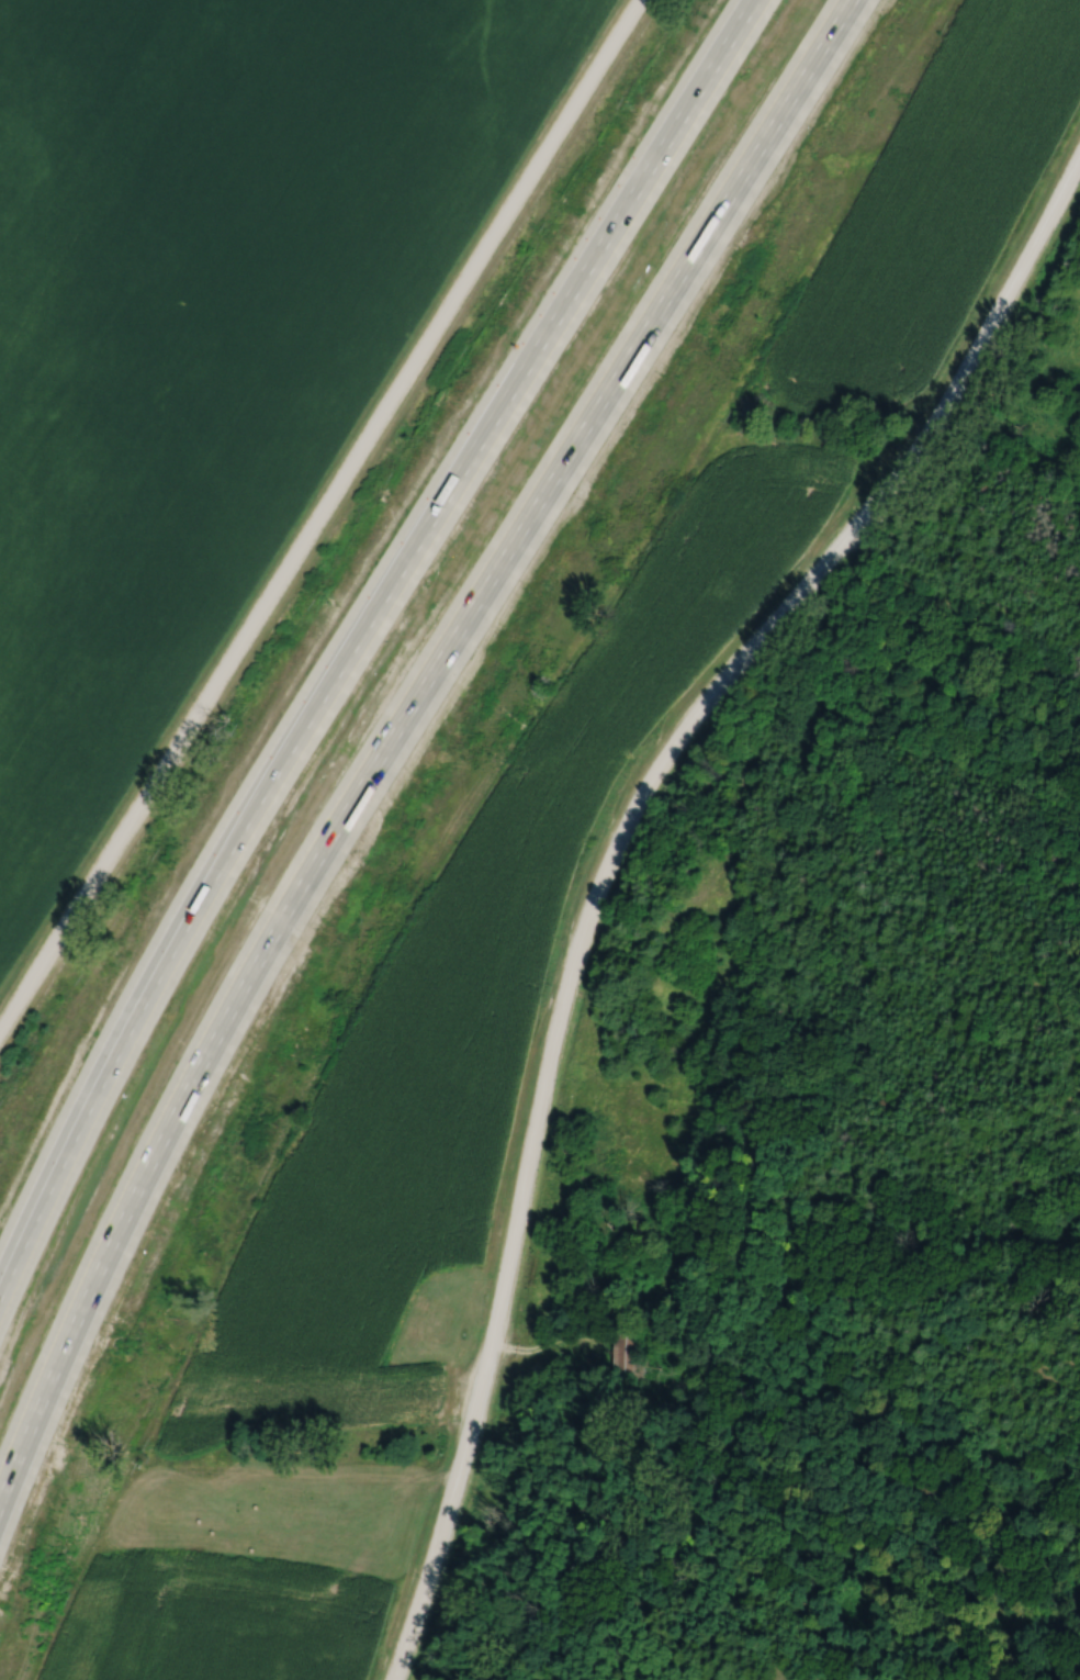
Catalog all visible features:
road: (319, 518)
road: (966, 613)
road: (355, 647)
building: (447, 677)
road: (400, 761)
road: (609, 861)
building: (621, 1348)

